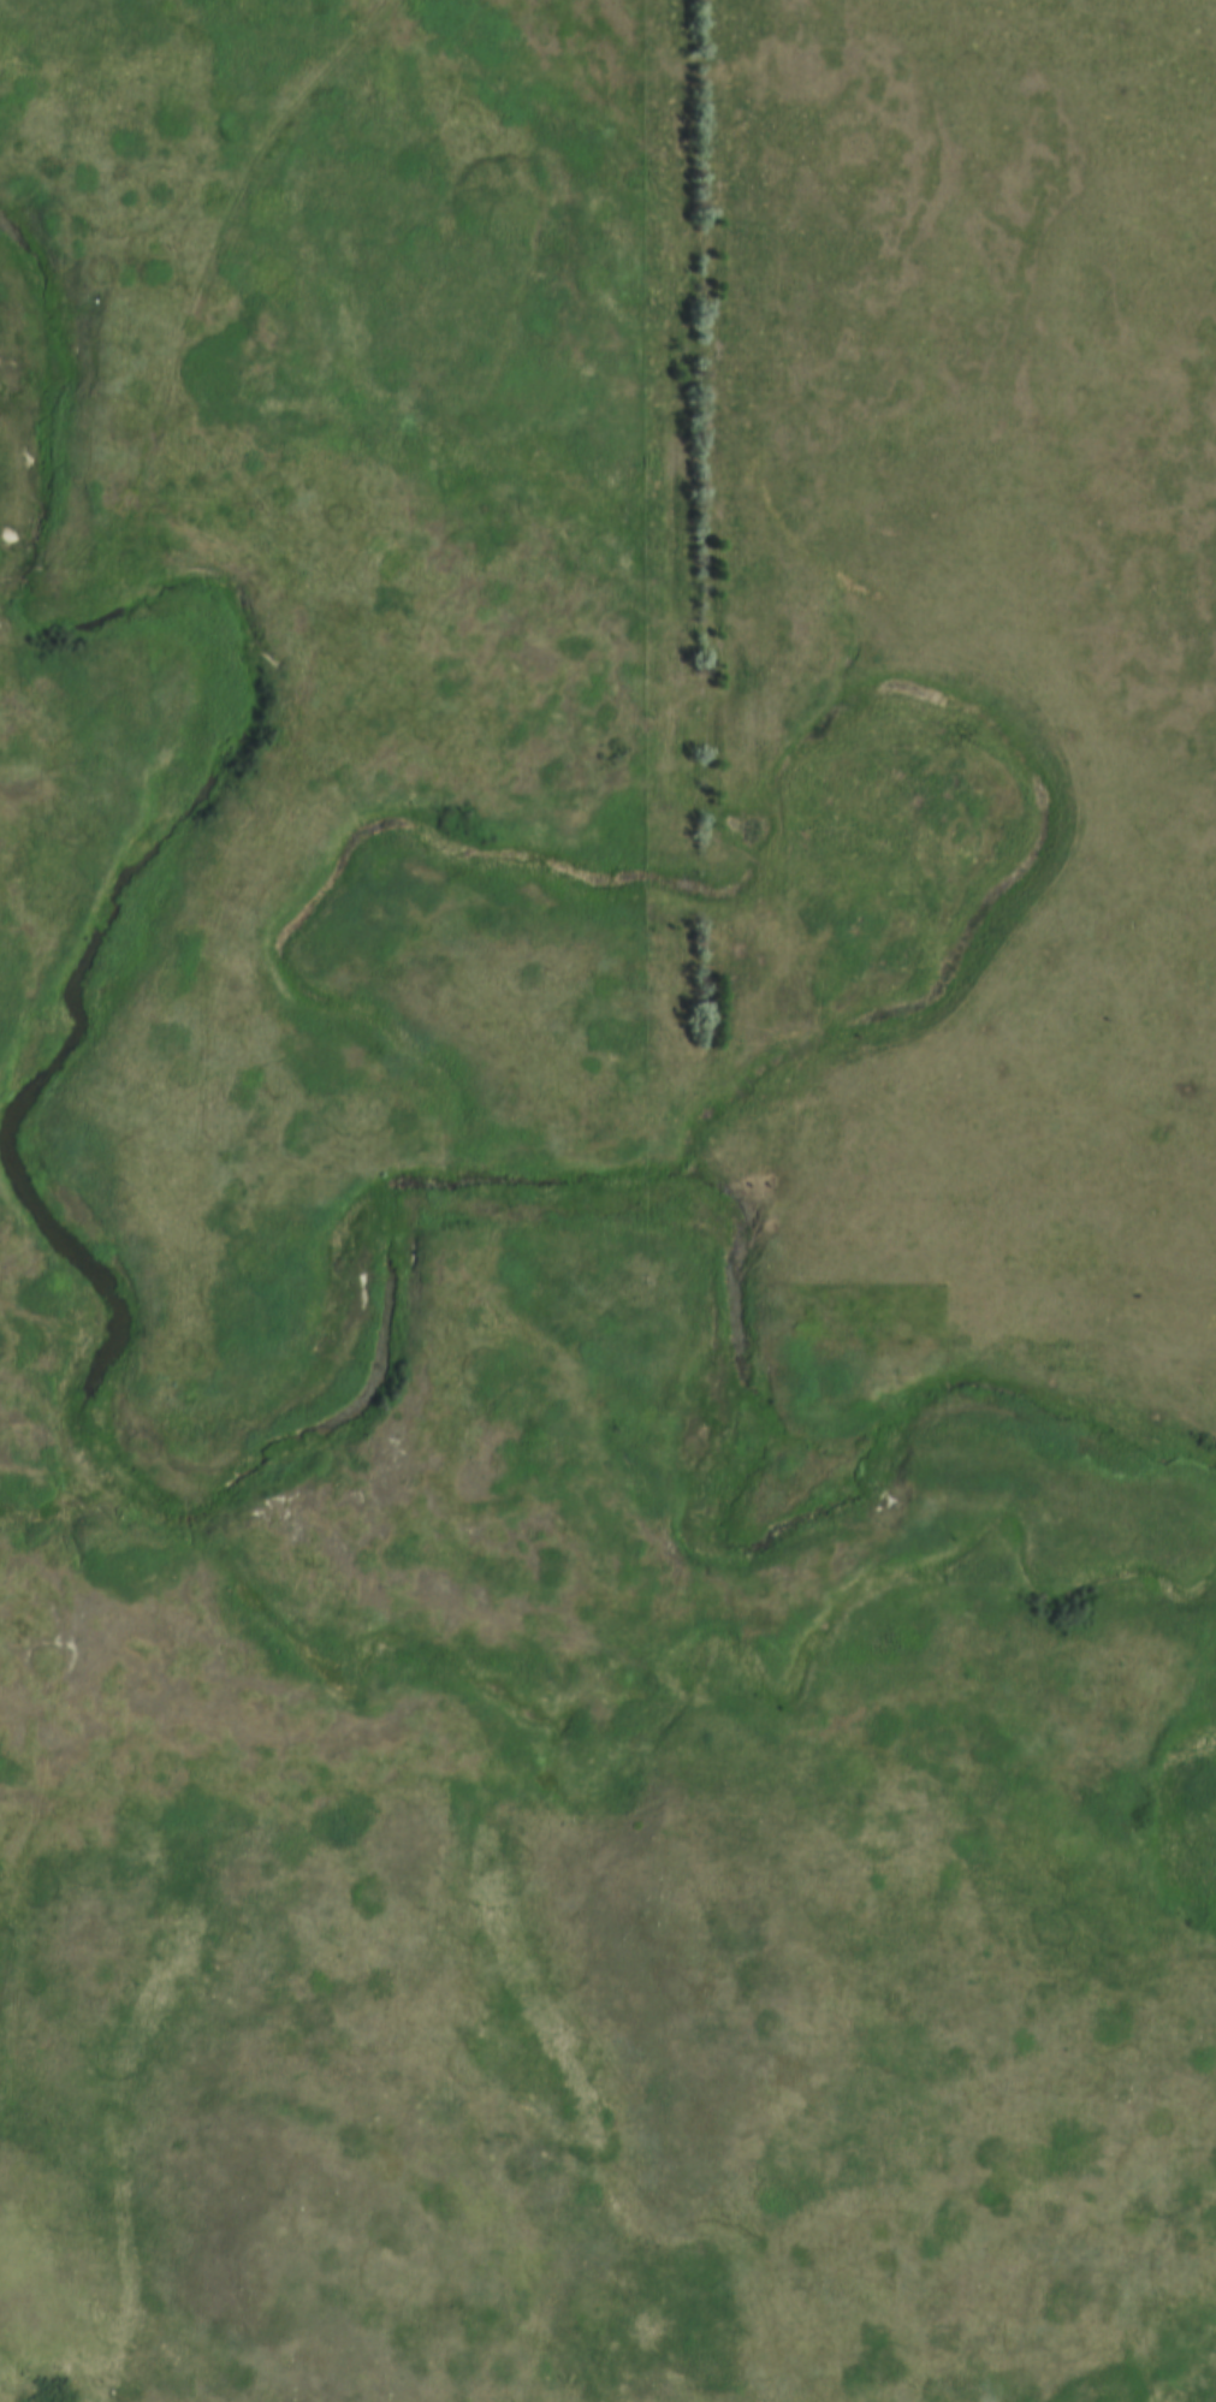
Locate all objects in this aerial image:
road: (200, 310)
road: (538, 1977)

